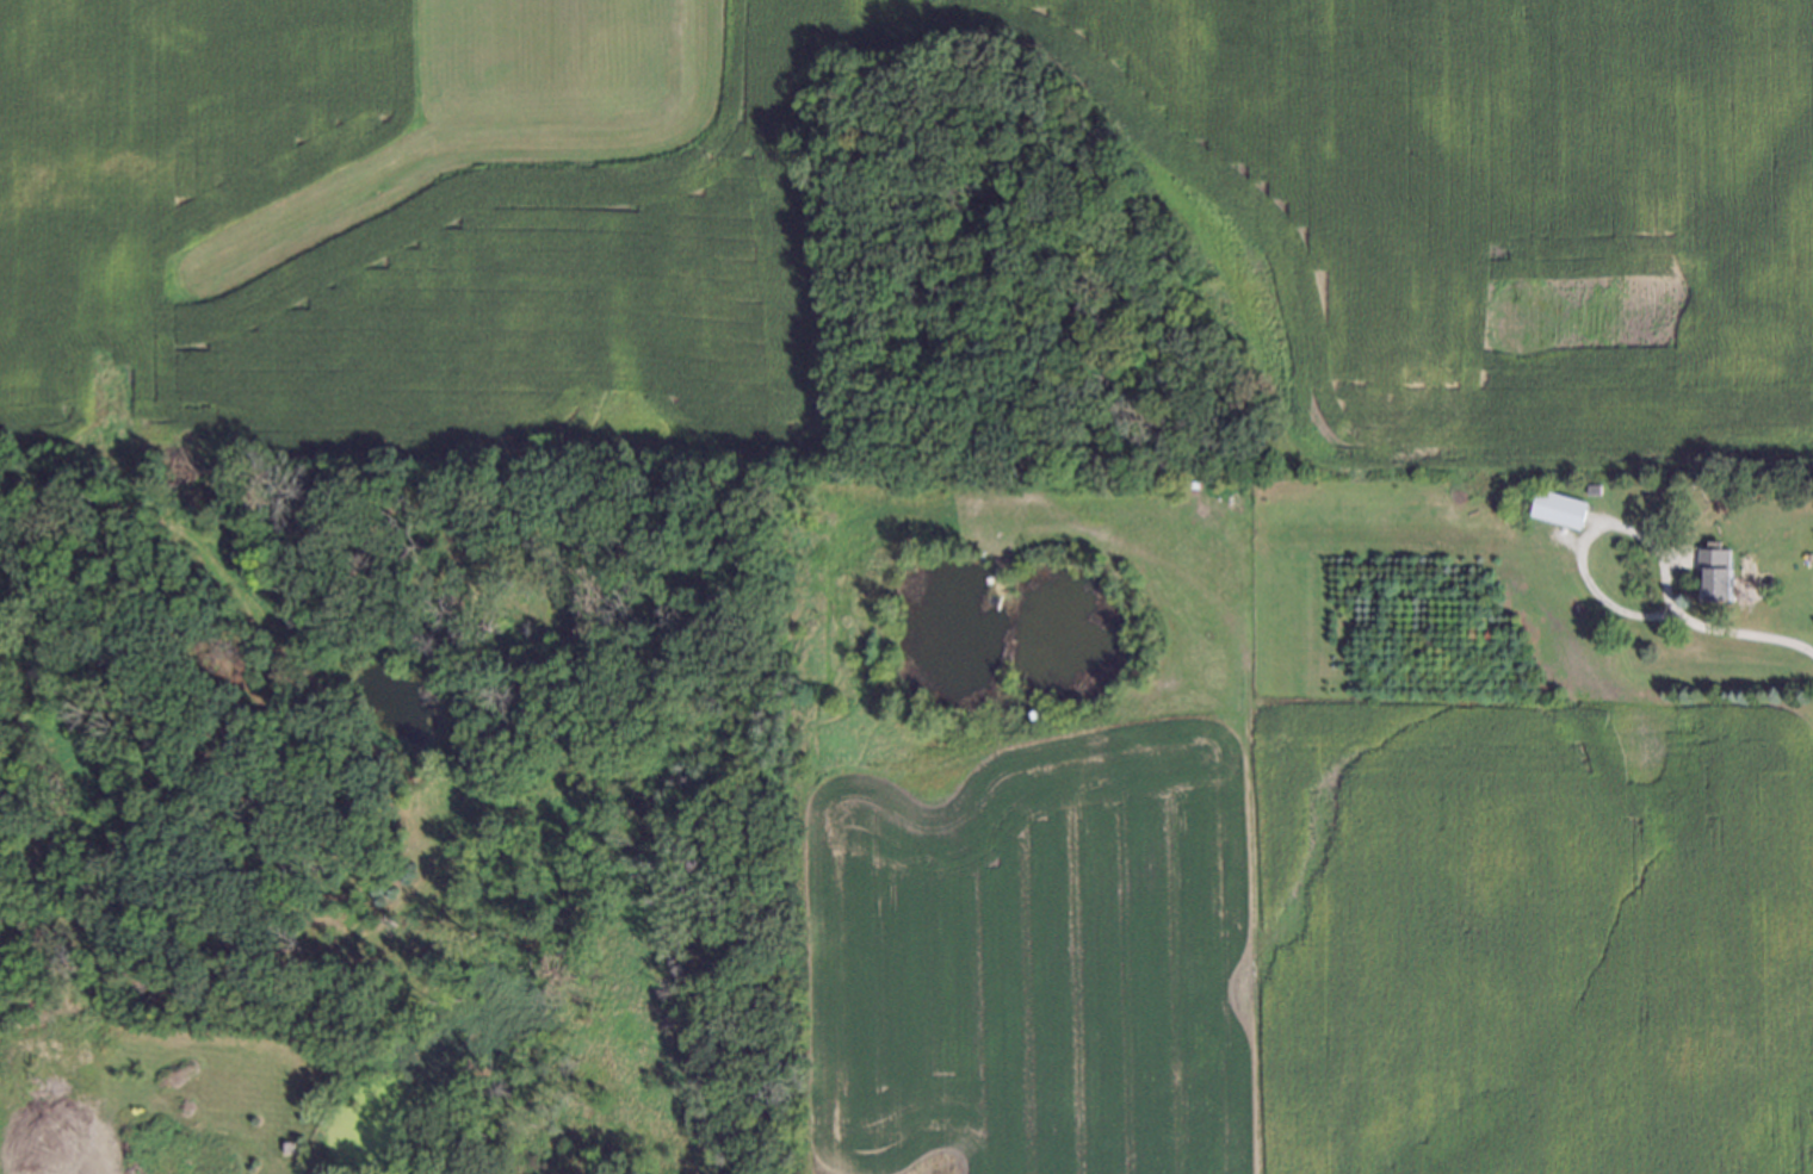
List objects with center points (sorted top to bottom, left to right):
building: (1590, 489)
building: (1557, 504)
road: (1584, 539)
building: (1715, 576)
road: (1743, 634)

